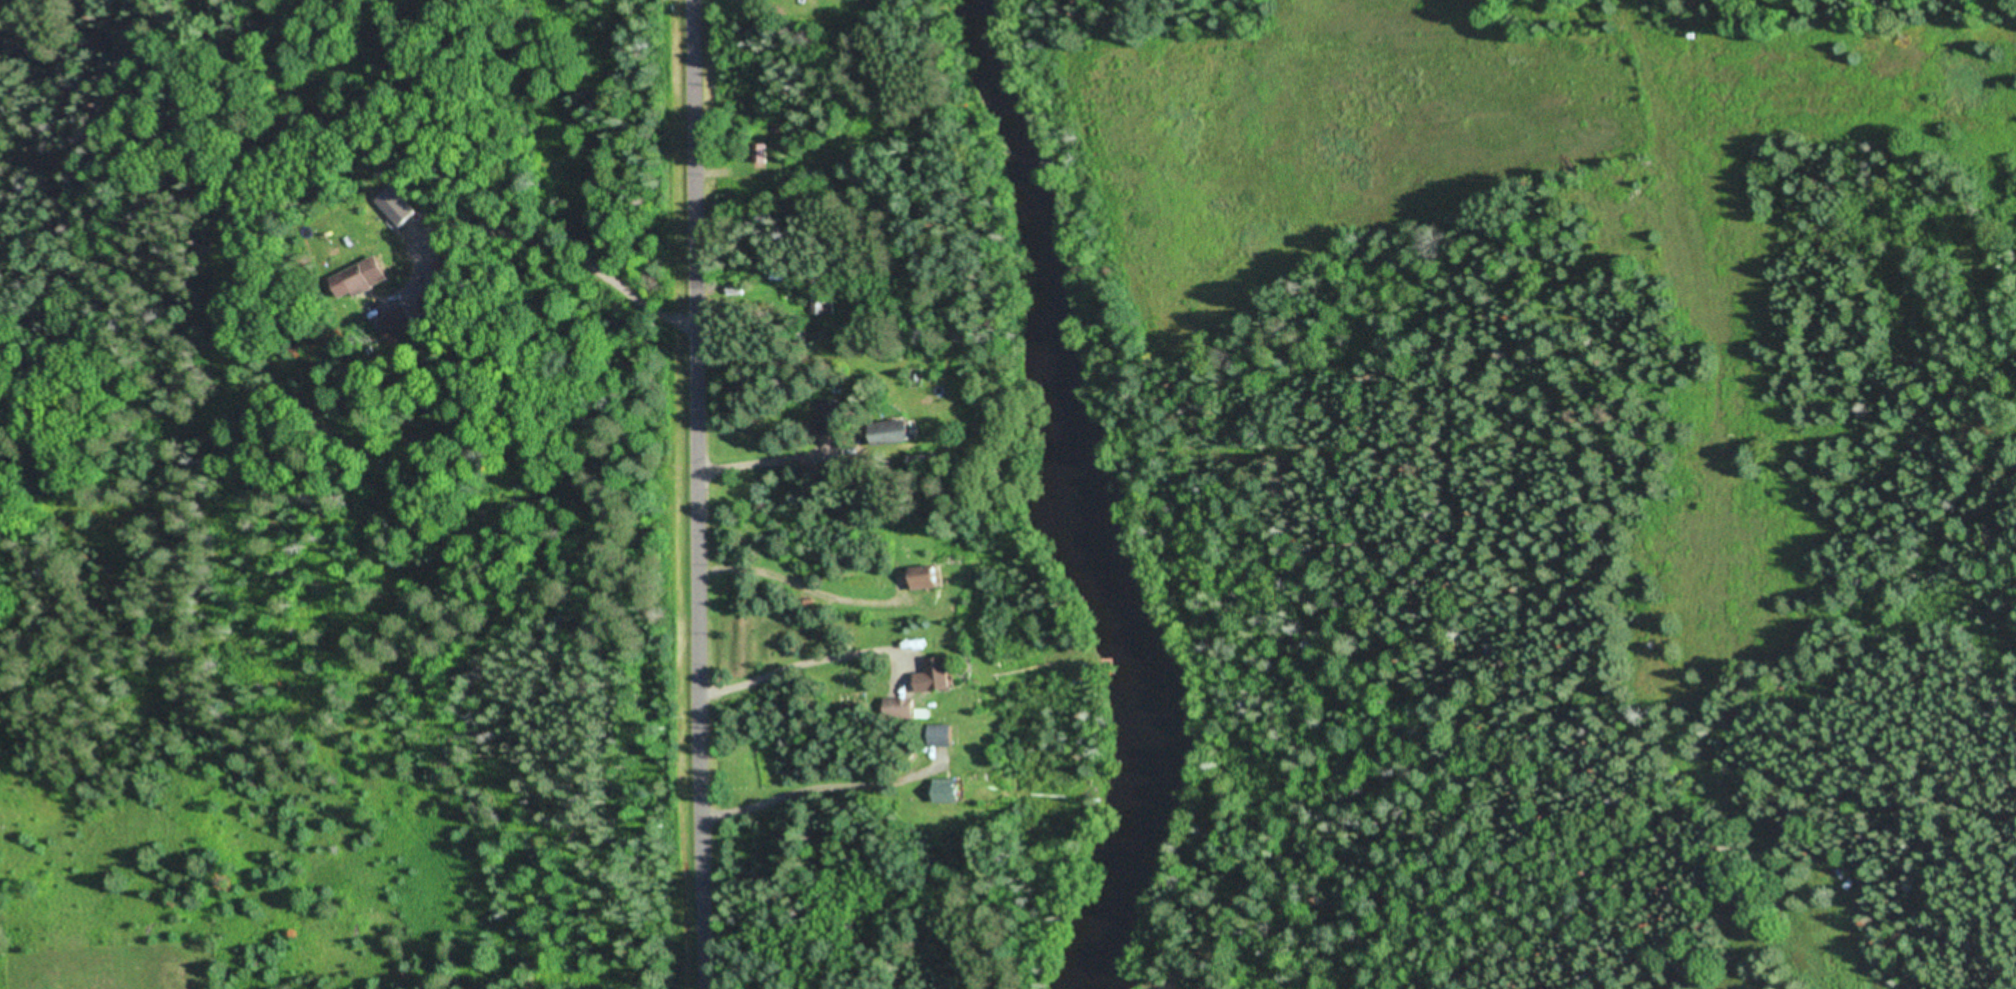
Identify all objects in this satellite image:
building: (762, 153)
building: (374, 277)
building: (821, 302)
building: (832, 416)
building: (897, 432)
river: (1082, 493)
road: (703, 494)
building: (928, 578)
building: (939, 677)
building: (907, 710)
building: (944, 737)
building: (953, 792)

